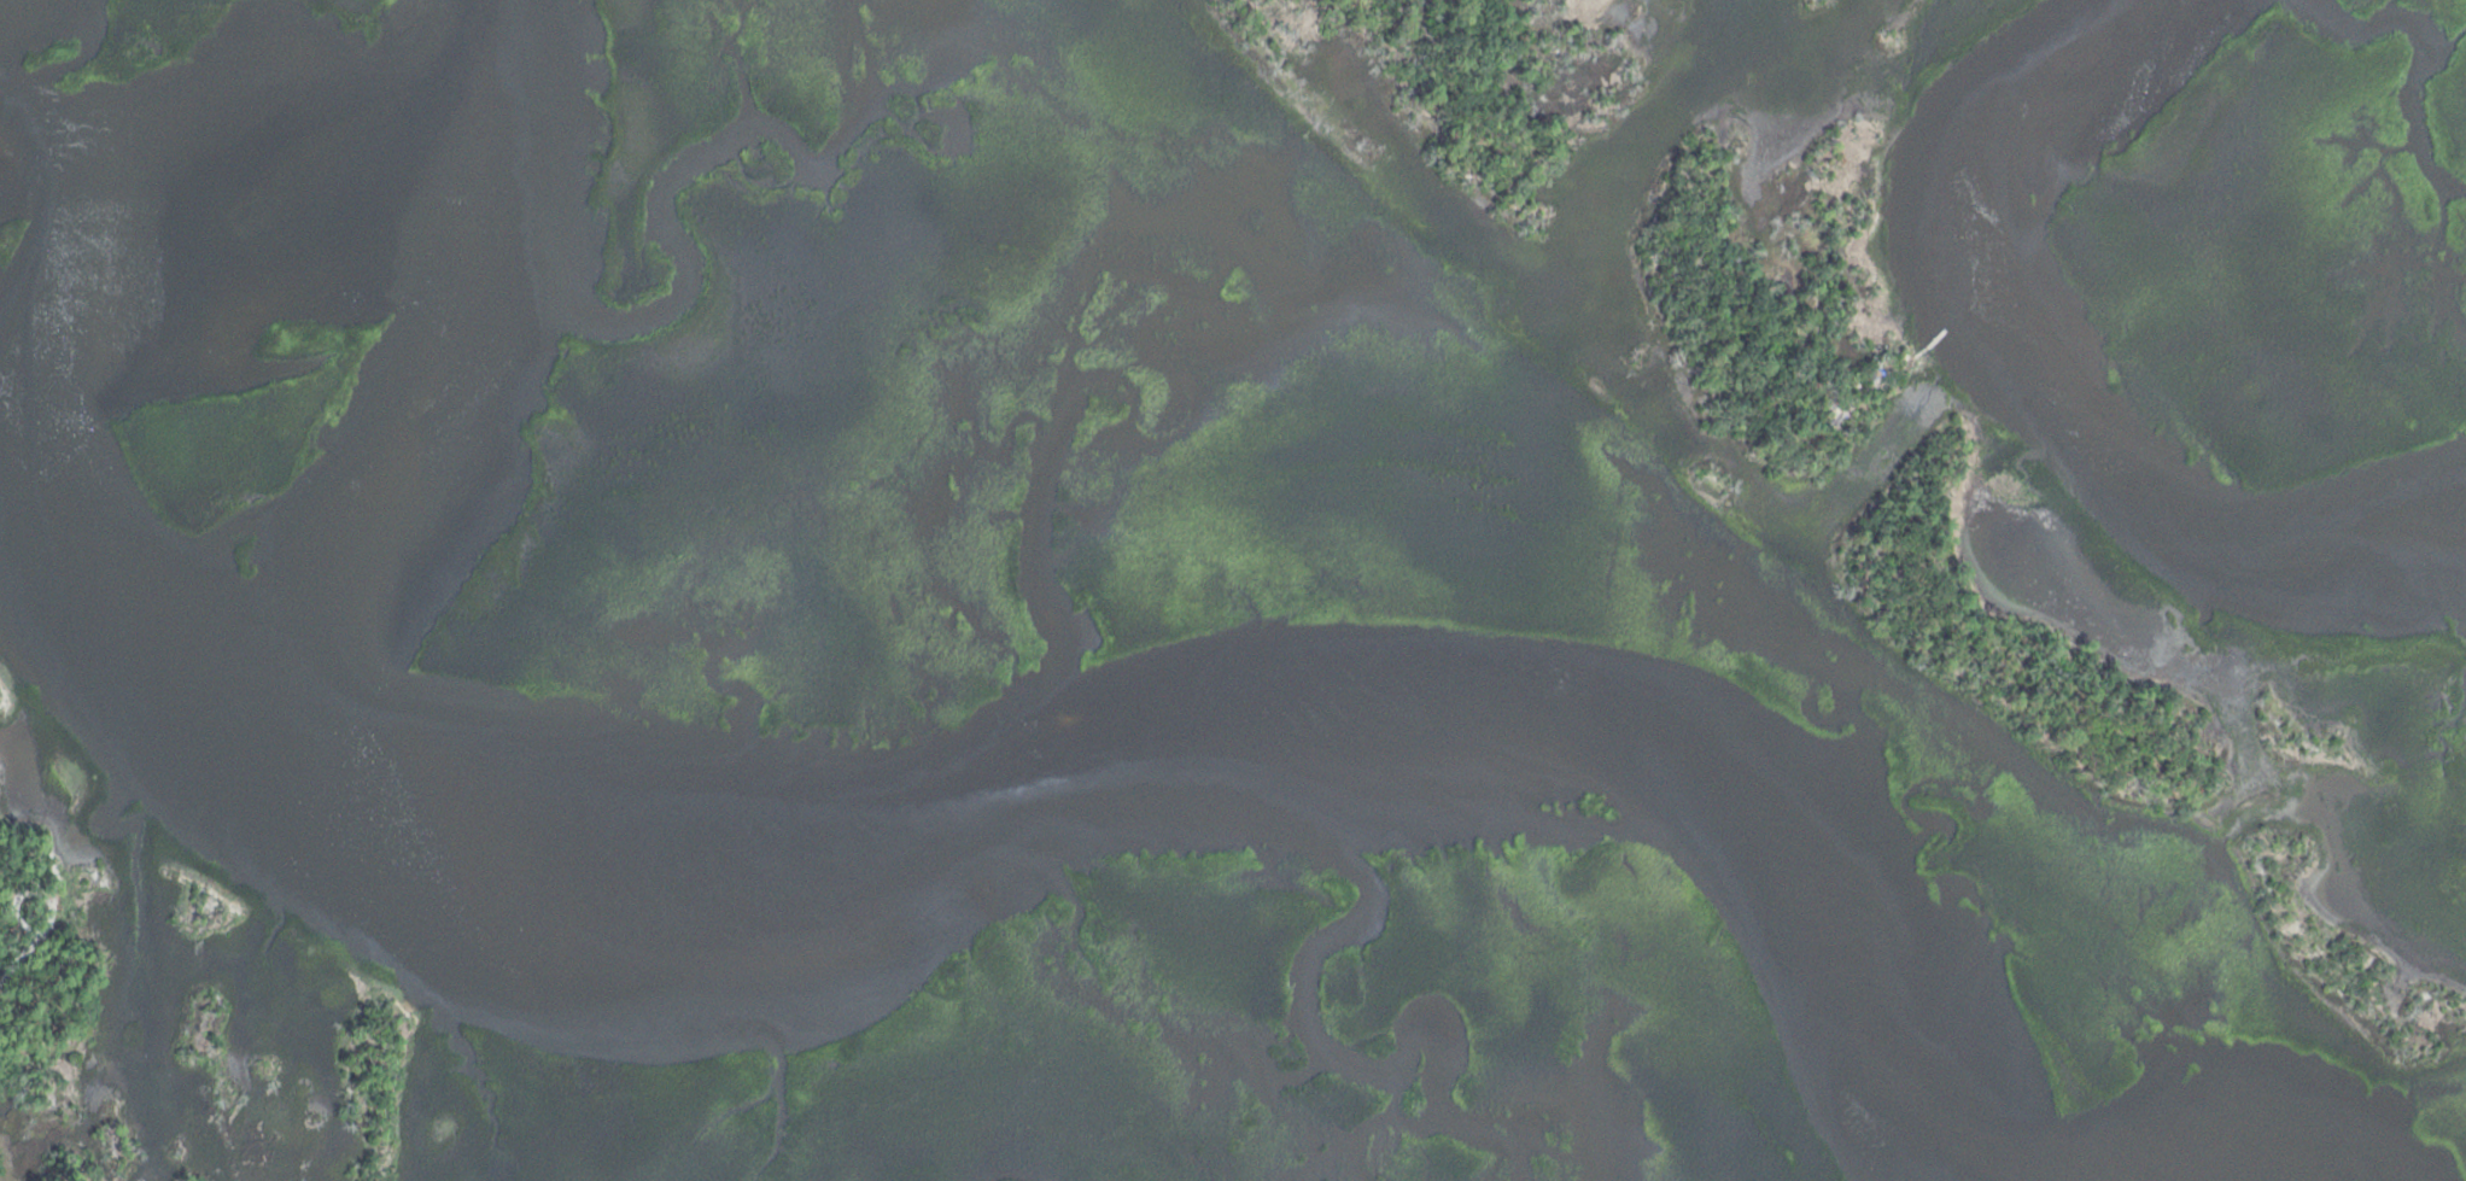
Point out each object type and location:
building: (1830, 416)

